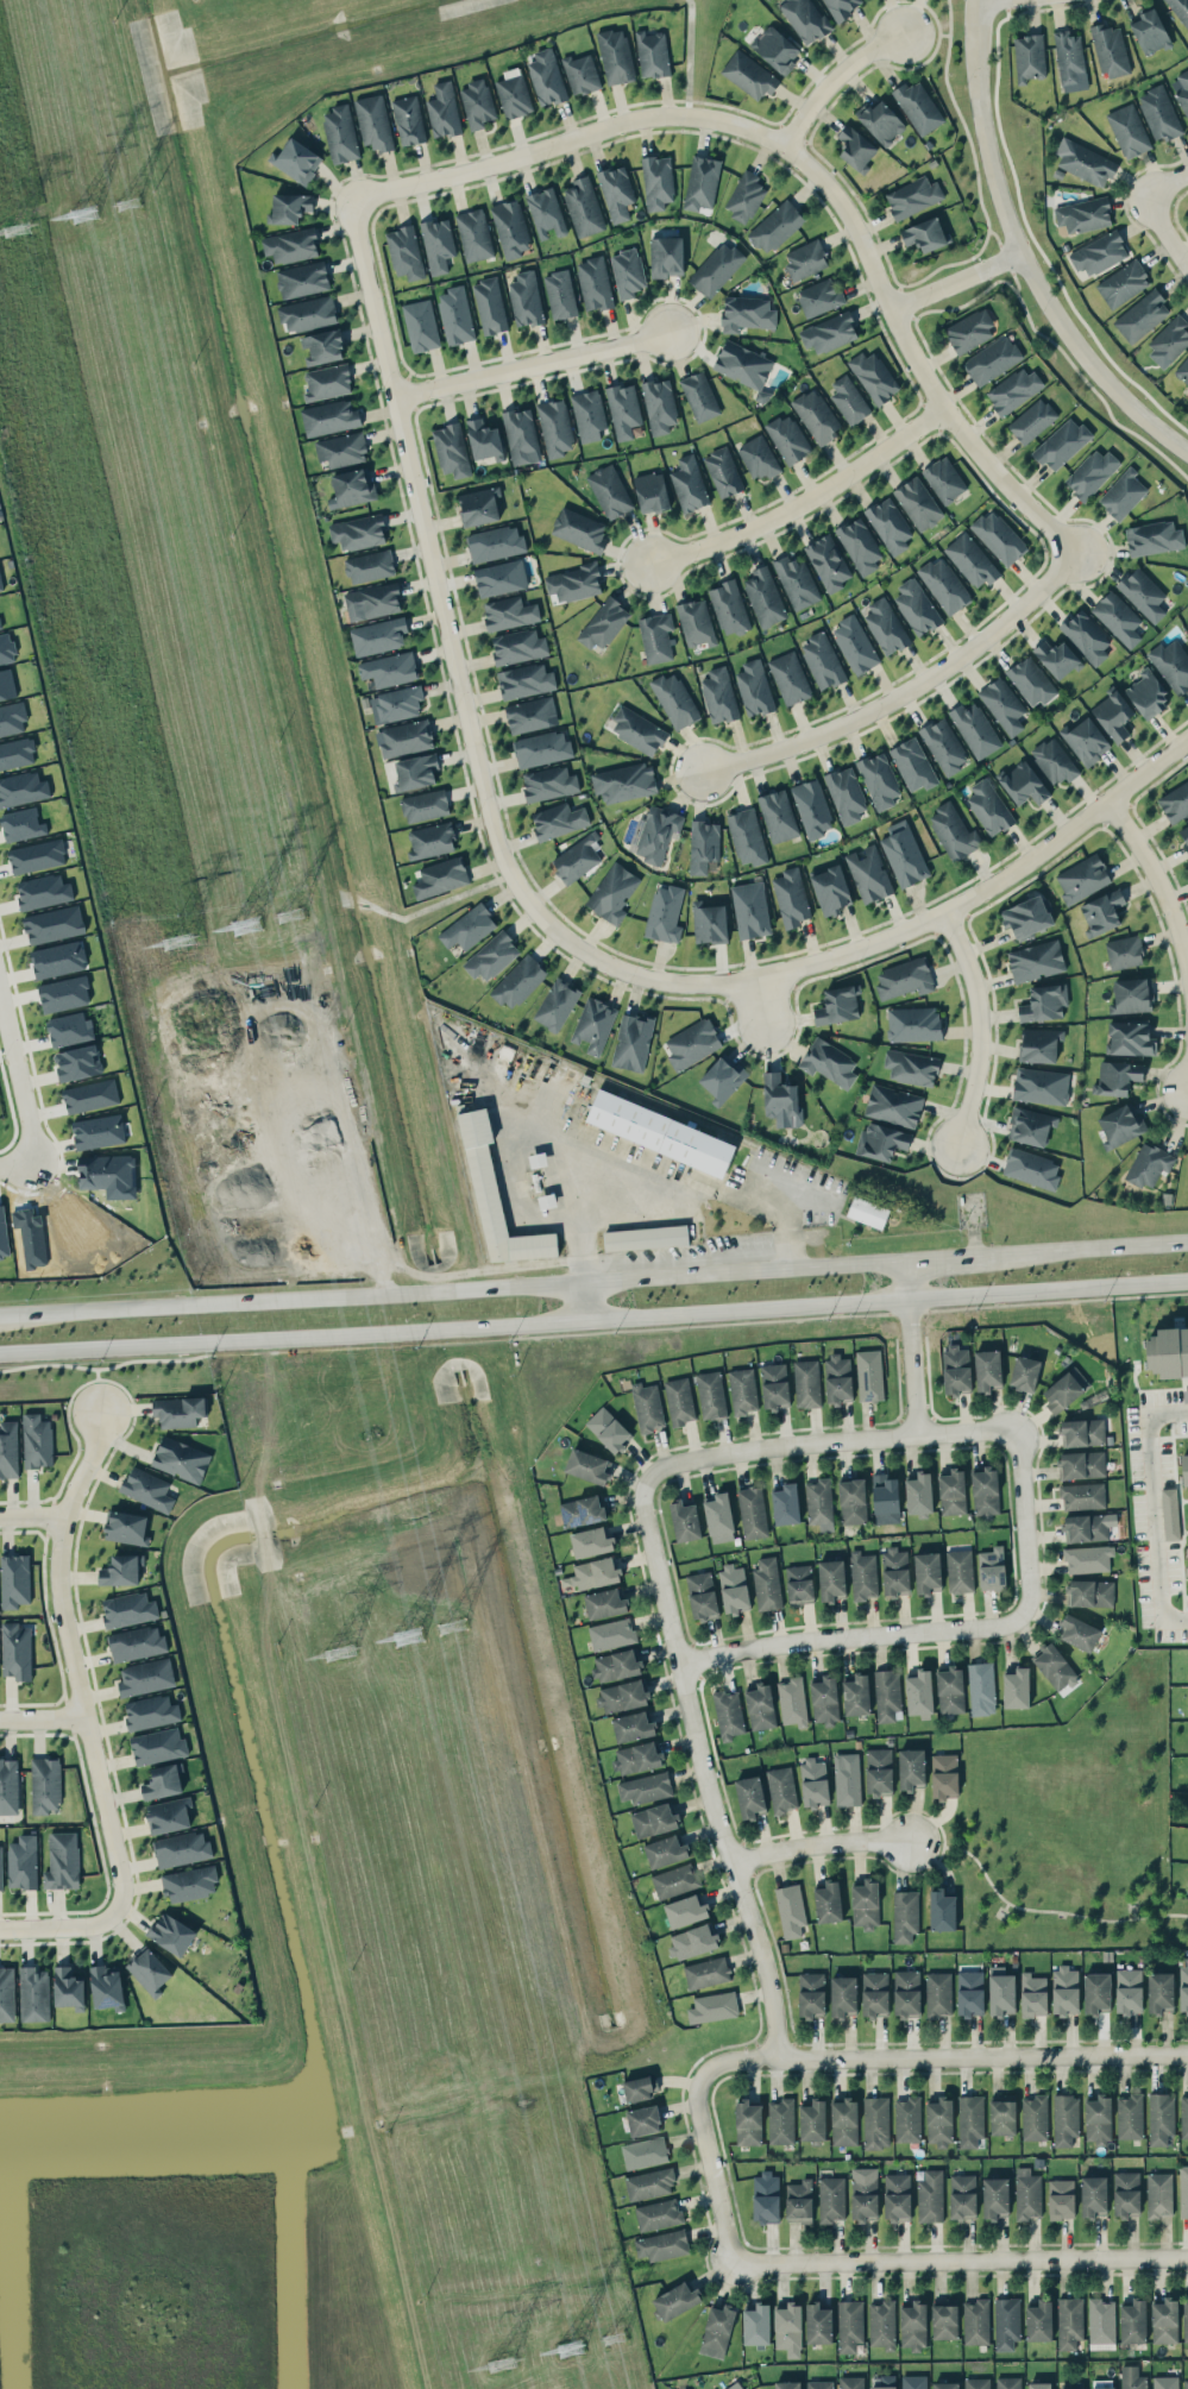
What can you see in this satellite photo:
building: (841, 8)
building: (1180, 10)
building: (804, 19)
building: (1150, 31)
building: (775, 49)
building: (1110, 50)
building: (652, 54)
building: (615, 56)
building: (1029, 57)
building: (1070, 61)
building: (580, 74)
building: (749, 75)
building: (546, 77)
road: (836, 80)
building: (1181, 89)
building: (513, 94)
building: (477, 103)
building: (918, 106)
building: (444, 109)
building: (1159, 112)
building: (408, 119)
building: (881, 121)
building: (373, 122)
building: (1127, 130)
building: (340, 133)
building: (855, 147)
building: (296, 159)
building: (1085, 162)
road: (809, 165)
building: (656, 182)
building: (702, 182)
road: (1169, 182)
building: (616, 191)
building: (744, 195)
building: (913, 196)
power tower: (120, 207)
building: (289, 207)
building: (583, 207)
building: (546, 213)
building: (1083, 214)
power tower: (77, 219)
building: (775, 226)
building: (510, 227)
road: (1165, 227)
power tower: (8, 233)
building: (473, 234)
building: (925, 234)
building: (438, 244)
building: (291, 245)
building: (404, 252)
building: (1099, 252)
road: (1024, 253)
building: (666, 256)
building: (805, 259)
building: (716, 268)
building: (627, 272)
building: (302, 278)
road: (957, 281)
building: (593, 283)
building: (1123, 283)
building: (560, 294)
building: (819, 296)
building: (526, 298)
building: (490, 306)
building: (308, 313)
building: (747, 313)
building: (455, 315)
building: (1142, 315)
building: (421, 325)
building: (969, 331)
building: (829, 332)
building: (1169, 340)
building: (322, 346)
building: (992, 359)
road: (535, 363)
building: (742, 364)
building: (1182, 370)
building: (873, 376)
building: (327, 382)
building: (1013, 389)
building: (699, 396)
building: (849, 400)
building: (659, 405)
building: (623, 409)
building: (587, 414)
building: (816, 415)
building: (329, 416)
building: (1032, 420)
building: (555, 427)
building: (521, 435)
building: (788, 438)
building: (484, 439)
building: (1062, 444)
building: (341, 448)
building: (451, 449)
building: (758, 457)
building: (723, 471)
building: (1090, 472)
building: (944, 479)
building: (689, 483)
building: (352, 488)
building: (609, 491)
building: (650, 491)
building: (1123, 493)
road: (804, 499)
building: (918, 503)
building: (478, 505)
building: (888, 524)
building: (579, 529)
building: (358, 532)
building: (999, 537)
building: (1152, 537)
building: (495, 542)
building: (859, 545)
building: (970, 560)
building: (828, 562)
building: (370, 566)
building: (501, 577)
building: (573, 581)
building: (796, 581)
building: (1, 584)
building: (944, 584)
building: (1143, 593)
building: (763, 597)
building: (372, 601)
building: (916, 606)
building: (728, 608)
building: (509, 612)
building: (1118, 618)
building: (696, 622)
building: (604, 623)
building: (0, 625)
building: (885, 625)
building: (378, 635)
building: (1086, 635)
building: (655, 636)
building: (854, 645)
building: (518, 646)
building: (6, 648)
building: (1057, 658)
building: (822, 660)
building: (1173, 665)
building: (389, 668)
building: (790, 677)
building: (524, 680)
building: (1031, 680)
building: (6, 685)
building: (754, 687)
road: (905, 689)
building: (1146, 693)
building: (718, 696)
building: (674, 699)
building: (396, 704)
building: (1002, 704)
building: (529, 713)
building: (1113, 716)
building: (12, 718)
building: (975, 729)
building: (639, 730)
building: (404, 737)
building: (1086, 740)
building: (943, 744)
building: (542, 748)
building: (17, 753)
building: (1054, 760)
building: (912, 765)
building: (415, 772)
building: (879, 779)
building: (624, 781)
building: (548, 782)
building: (1024, 784)
building: (23, 788)
building: (846, 794)
building: (1175, 801)
building: (425, 805)
building: (989, 806)
building: (812, 807)
building: (778, 815)
building: (558, 819)
building: (21, 824)
building: (954, 831)
building: (655, 832)
building: (1183, 835)
building: (747, 836)
building: (430, 840)
building: (703, 845)
building: (904, 854)
building: (37, 855)
building: (577, 857)
building: (868, 873)
building: (441, 876)
road: (1159, 876)
building: (1082, 878)
building: (830, 889)
building: (43, 891)
building: (612, 892)
building: (791, 897)
power tower: (279, 909)
road: (538, 909)
building: (750, 909)
building: (1102, 912)
building: (665, 913)
building: (1027, 916)
building: (709, 922)
building: (54, 924)
power tower: (237, 925)
building: (467, 928)
power tower: (168, 939)
building: (1124, 951)
building: (492, 956)
building: (57, 958)
building: (1036, 960)
building: (904, 977)
building: (518, 981)
building: (63, 993)
building: (1132, 995)
building: (1044, 1002)
building: (557, 1004)
building: (837, 1005)
road: (979, 1020)
building: (593, 1024)
building: (913, 1024)
building: (69, 1027)
building: (1130, 1038)
building: (631, 1042)
building: (692, 1043)
building: (1039, 1044)
building: (77, 1062)
building: (829, 1062)
building: (911, 1067)
building: (722, 1077)
building: (1117, 1077)
building: (1041, 1085)
building: (90, 1095)
building: (780, 1100)
building: (893, 1105)
road: (15, 1109)
building: (1030, 1125)
building: (1120, 1125)
building: (98, 1131)
building: (660, 1132)
building: (881, 1140)
building: (1149, 1164)
building: (1031, 1168)
building: (106, 1171)
building: (496, 1196)
road: (678, 1200)
building: (867, 1211)
building: (2, 1233)
building: (646, 1237)
road: (1085, 1250)
road: (945, 1259)
road: (454, 1289)
road: (587, 1302)
road: (593, 1320)
road: (918, 1345)
building: (1168, 1352)
building: (956, 1368)
building: (987, 1369)
building: (1024, 1372)
building: (869, 1375)
building: (837, 1377)
building: (806, 1383)
building: (774, 1385)
building: (1064, 1389)
building: (742, 1390)
building: (710, 1394)
building: (1186, 1395)
building: (679, 1400)
building: (647, 1407)
building: (178, 1410)
building: (608, 1428)
building: (1082, 1432)
road: (840, 1439)
building: (37, 1440)
building: (8, 1448)
building: (181, 1459)
building: (1081, 1464)
building: (586, 1465)
building: (1184, 1469)
building: (146, 1488)
building: (985, 1491)
building: (919, 1492)
building: (951, 1492)
building: (1082, 1496)
building: (885, 1500)
building: (853, 1501)
building: (785, 1503)
building: (819, 1503)
road: (1155, 1508)
building: (582, 1510)
building: (752, 1511)
road: (1027, 1513)
building: (1170, 1513)
road: (32, 1516)
building: (719, 1517)
building: (684, 1520)
building: (127, 1527)
building: (1086, 1527)
building: (1088, 1558)
building: (121, 1568)
building: (992, 1568)
building: (895, 1570)
building: (960, 1571)
building: (928, 1572)
building: (592, 1573)
building: (863, 1574)
building: (831, 1579)
building: (14, 1580)
building: (767, 1583)
building: (799, 1584)
building: (734, 1589)
building: (1090, 1592)
building: (702, 1595)
building: (605, 1603)
building: (127, 1609)
power tower: (439, 1624)
building: (1079, 1632)
building: (611, 1633)
road: (859, 1637)
power tower: (398, 1639)
building: (136, 1642)
building: (15, 1651)
power tower: (329, 1653)
road: (73, 1656)
building: (616, 1665)
building: (1054, 1666)
building: (145, 1677)
building: (981, 1687)
building: (1017, 1687)
building: (950, 1690)
building: (919, 1692)
building: (856, 1695)
building: (887, 1695)
building: (623, 1696)
building: (825, 1699)
building: (792, 1700)
building: (760, 1706)
building: (150, 1711)
building: (728, 1714)
road: (42, 1715)
building: (633, 1725)
building: (158, 1746)
road: (705, 1753)
building: (636, 1758)
building: (911, 1767)
building: (879, 1771)
building: (944, 1775)
building: (163, 1780)
building: (848, 1780)
building: (813, 1781)
building: (45, 1784)
building: (8, 1786)
building: (645, 1787)
building: (781, 1788)
building: (749, 1796)
building: (169, 1815)
building: (653, 1819)
road: (824, 1844)
building: (181, 1848)
building: (665, 1850)
building: (62, 1860)
building: (23, 1861)
building: (0, 1867)
building: (674, 1880)
building: (189, 1882)
building: (1187, 1888)
building: (828, 1901)
building: (866, 1903)
building: (686, 1910)
building: (790, 1910)
building: (942, 1910)
road: (1038, 1911)
building: (905, 1915)
road: (59, 1925)
building: (171, 1932)
building: (692, 1941)
building: (149, 1970)
building: (705, 1972)
building: (107, 1986)
building: (69, 1987)
building: (1183, 1987)
building: (1064, 1989)
building: (1129, 1989)
building: (1000, 1991)
building: (874, 1992)
building: (906, 1992)
building: (970, 1992)
building: (1096, 1992)
building: (1159, 1992)
building: (33, 1993)
building: (938, 1993)
building: (6, 1994)
building: (811, 1994)
building: (842, 1994)
building: (1033, 1994)
building: (712, 2006)
road: (950, 2049)
building: (640, 2087)
building: (1002, 2115)
building: (1129, 2115)
building: (1183, 2115)
building: (1033, 2117)
building: (907, 2118)
building: (1098, 2118)
building: (1161, 2118)
building: (1066, 2119)
building: (643, 2120)
building: (780, 2120)
building: (812, 2120)
building: (938, 2120)
building: (970, 2120)
building: (843, 2121)
building: (875, 2121)
building: (748, 2123)
building: (645, 2152)
road: (716, 2161)
building: (649, 2183)
building: (1183, 2190)
building: (863, 2193)
building: (1027, 2193)
building: (1126, 2193)
building: (929, 2194)
building: (1093, 2194)
building: (1159, 2194)
building: (962, 2195)
building: (766, 2196)
building: (897, 2196)
building: (994, 2196)
building: (831, 2198)
building: (1061, 2198)
building: (798, 2201)
building: (658, 2214)
building: (662, 2245)
road: (961, 2257)
building: (675, 2300)
building: (944, 2319)
building: (1039, 2320)
building: (1101, 2320)
building: (1164, 2320)
building: (1186, 2320)
building: (975, 2321)
building: (1069, 2321)
building: (1133, 2321)
building: (818, 2322)
building: (1006, 2322)
building: (756, 2324)
building: (881, 2324)
building: (849, 2325)
building: (913, 2325)
building: (788, 2328)
building: (717, 2331)
power tower: (608, 2338)
power tower: (560, 2350)
power tower: (486, 2362)
building: (1132, 2377)
building: (850, 2382)
building: (882, 2382)
building: (913, 2382)
building: (1007, 2382)
building: (1165, 2382)
building: (976, 2383)
building: (1102, 2383)
building: (1186, 2383)
building: (786, 2384)
building: (819, 2384)
building: (736, 2385)
building: (945, 2385)
building: (1039, 2385)
building: (1073, 2388)

